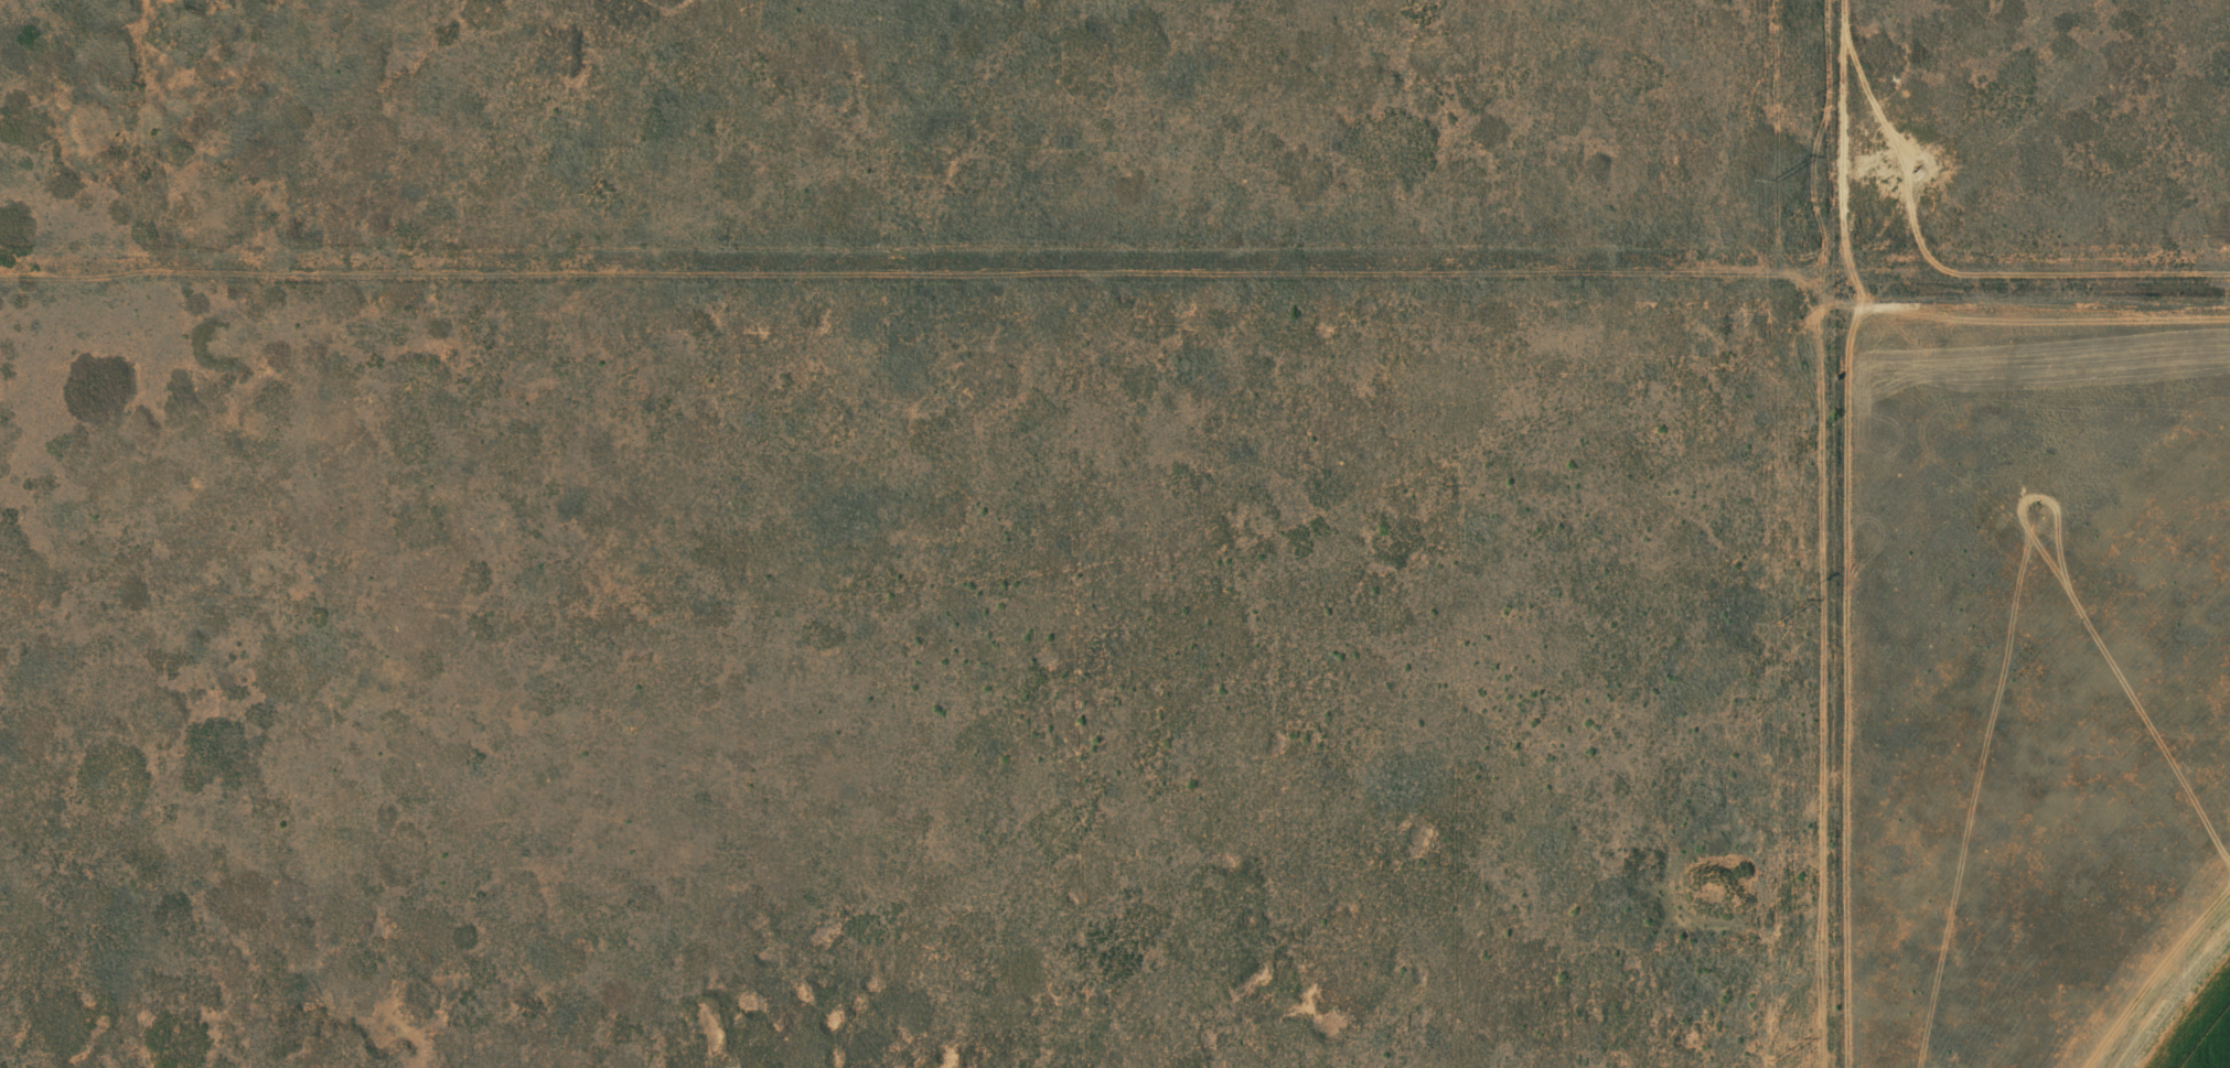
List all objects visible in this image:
power tower: (1775, 180)
road: (2026, 249)
road: (1101, 564)
power tower: (1773, 622)
road: (1820, 715)
crop: (2201, 1033)
power tower: (1769, 1059)

